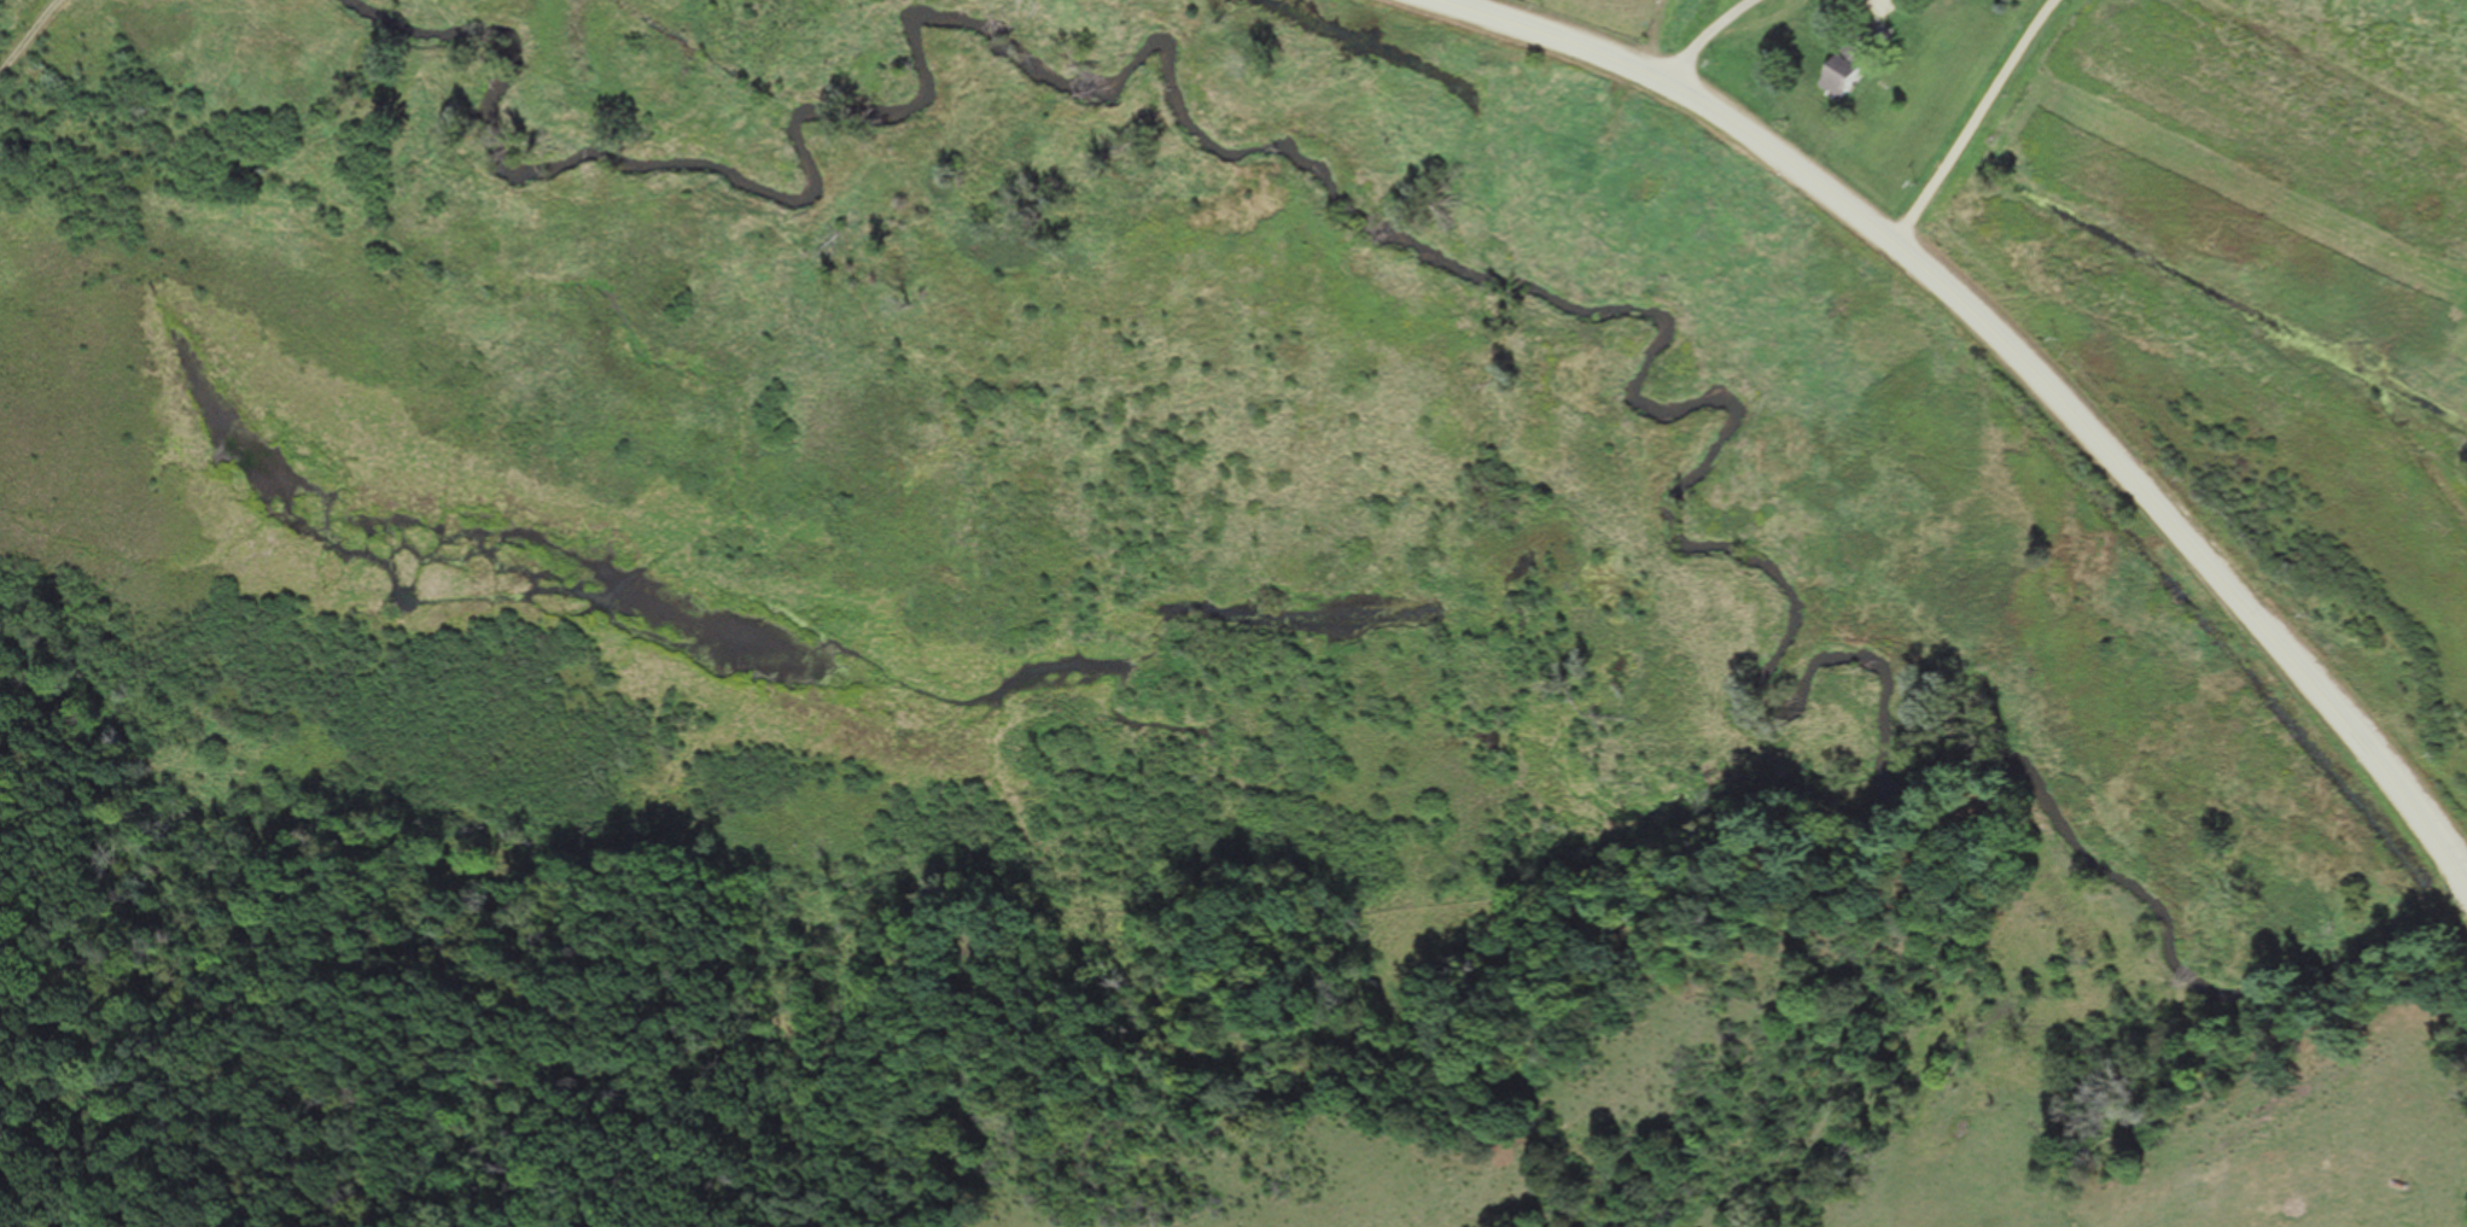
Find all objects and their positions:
road: (1705, 36)
building: (1842, 72)
road: (1972, 117)
river: (1501, 249)
road: (2028, 361)
river: (2419, 952)

